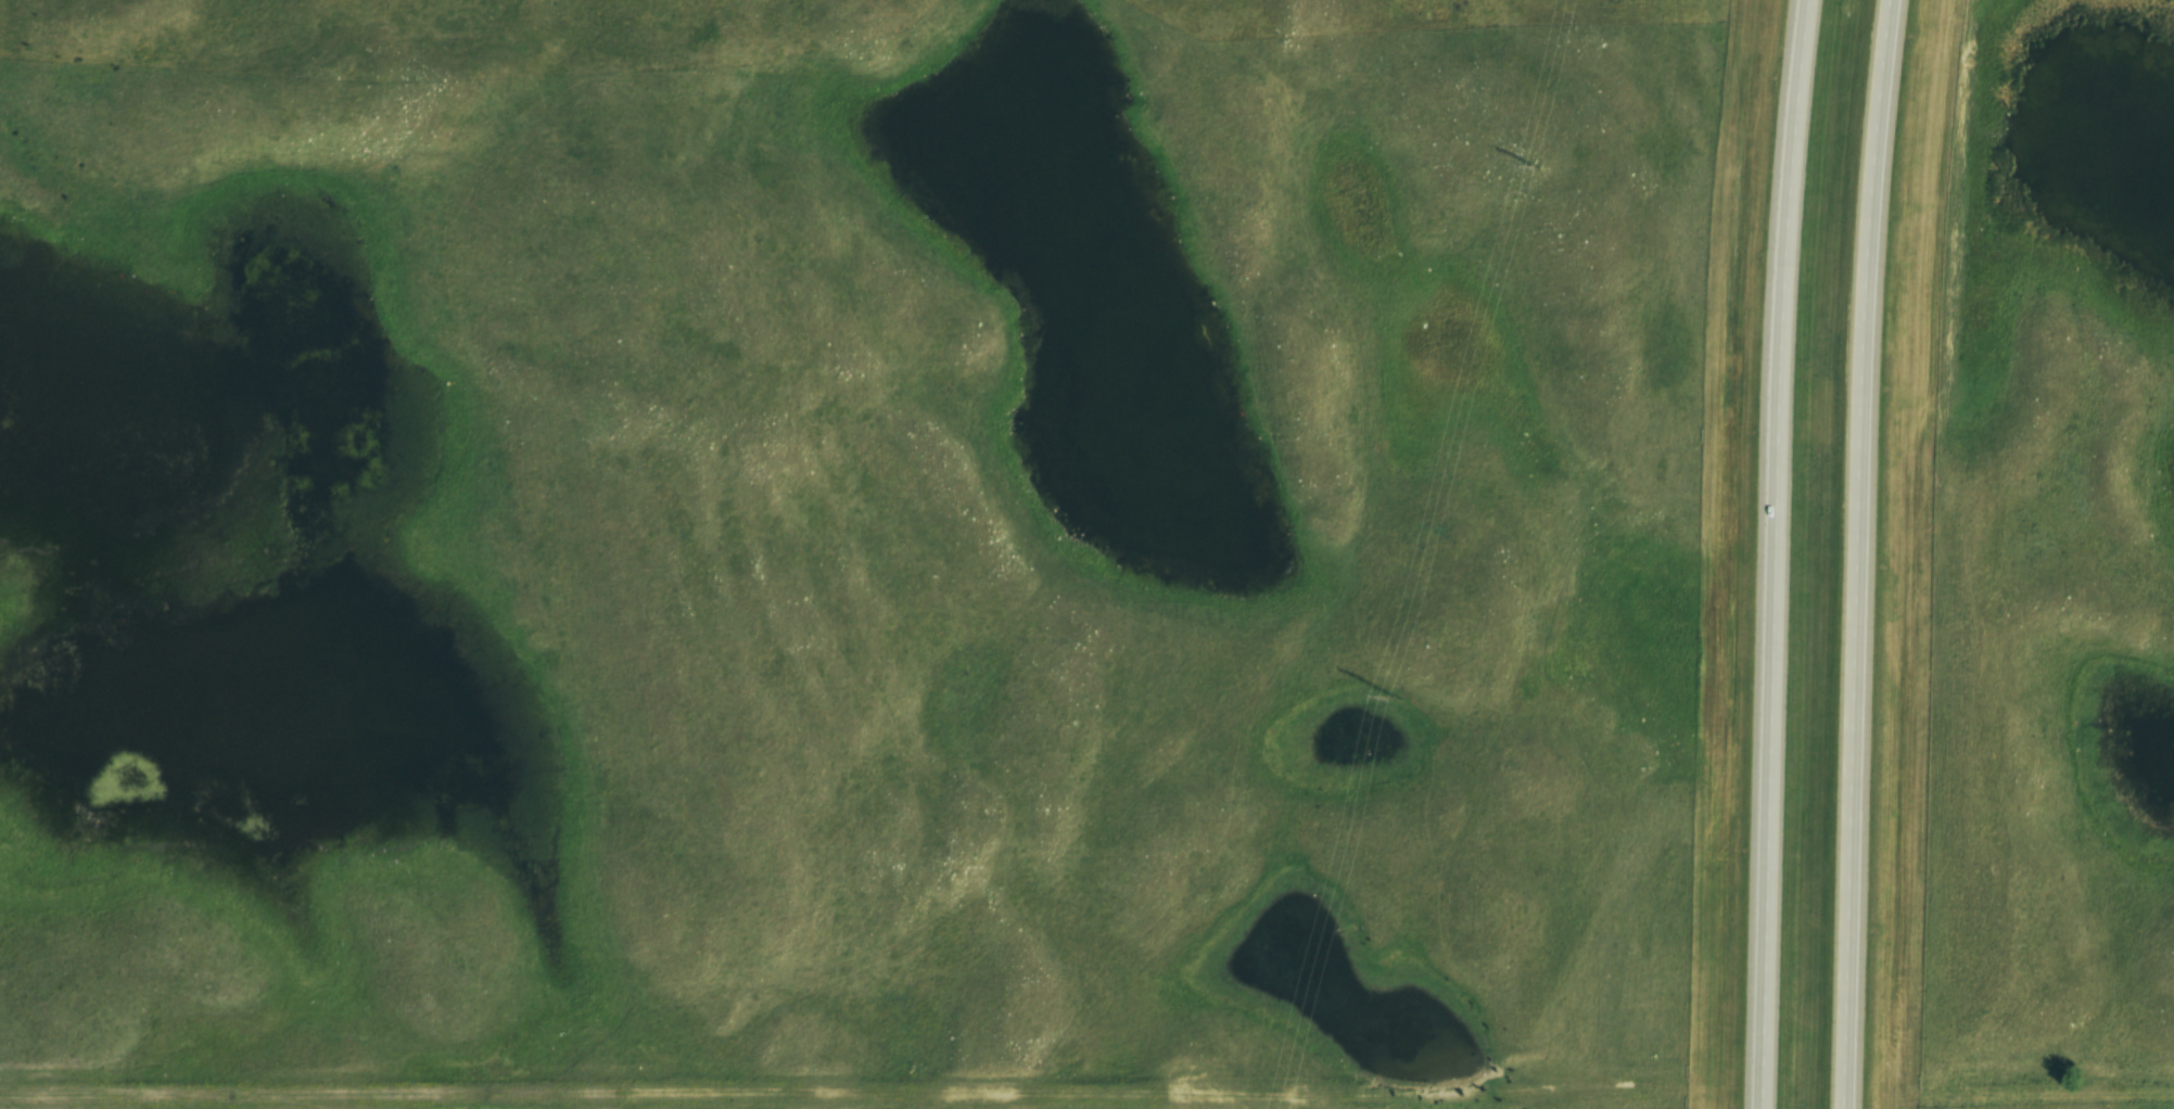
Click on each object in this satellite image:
power tower: (1525, 163)
road: (1777, 553)
road: (1867, 553)
power tower: (1387, 694)
road: (2057, 1100)

